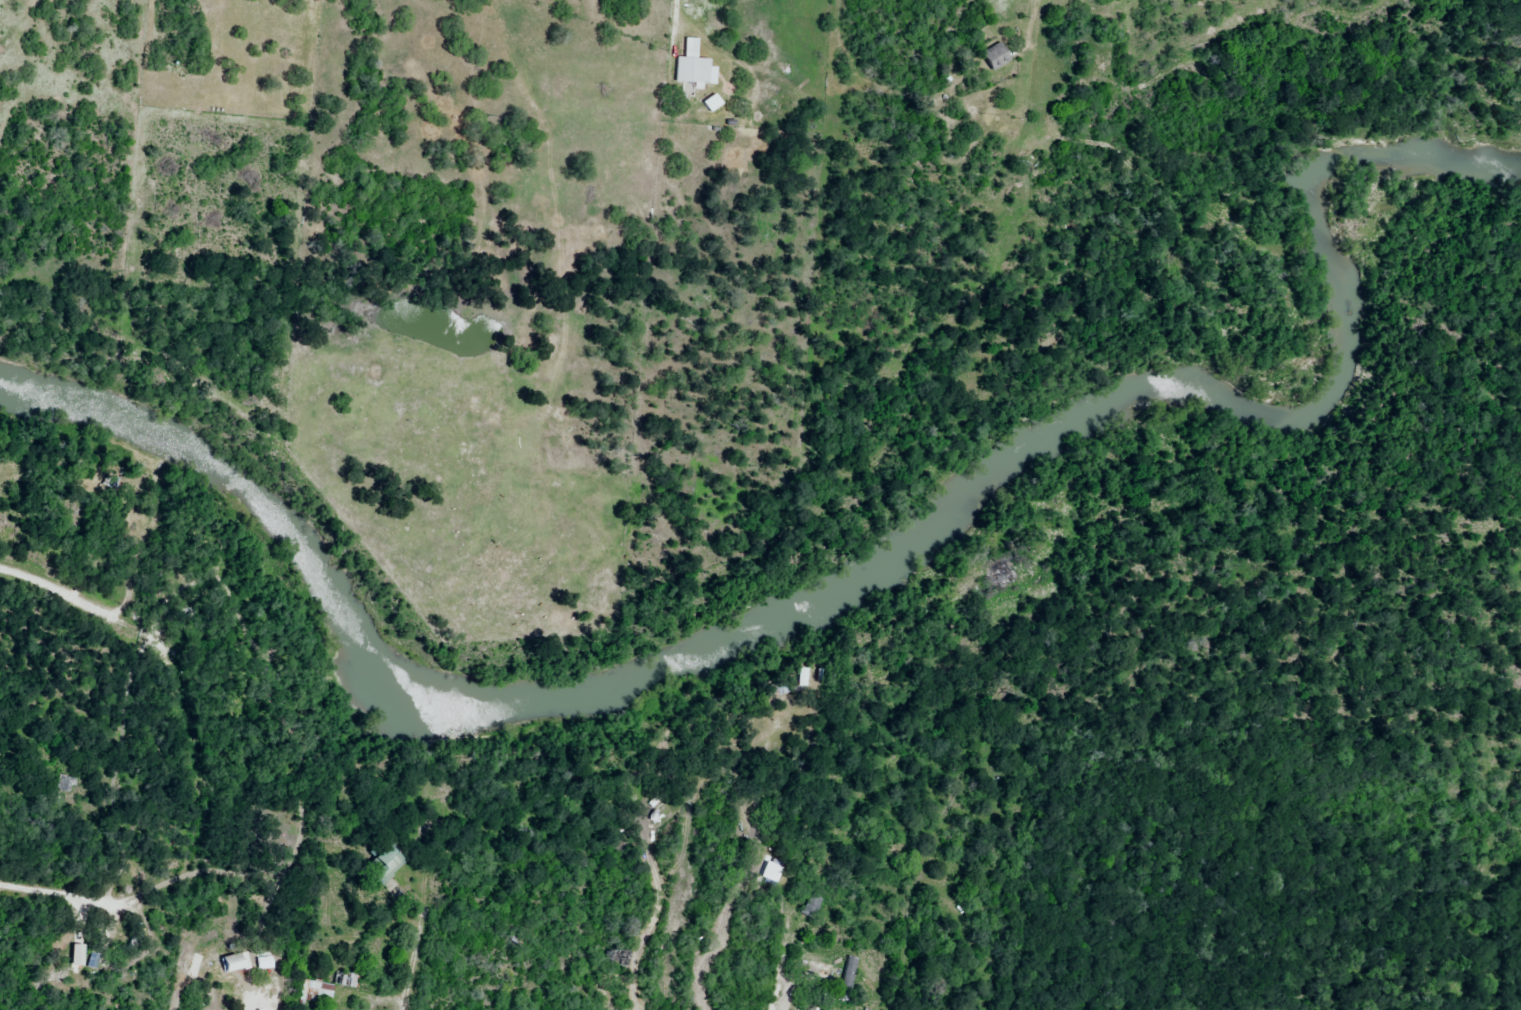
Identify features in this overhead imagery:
building: (997, 56)
building: (693, 71)
building: (1007, 575)
river: (845, 586)
road: (59, 593)
building: (386, 865)
building: (812, 906)
road: (414, 943)
building: (381, 953)
building: (237, 963)
building: (349, 980)
road: (785, 981)
road: (246, 1002)

